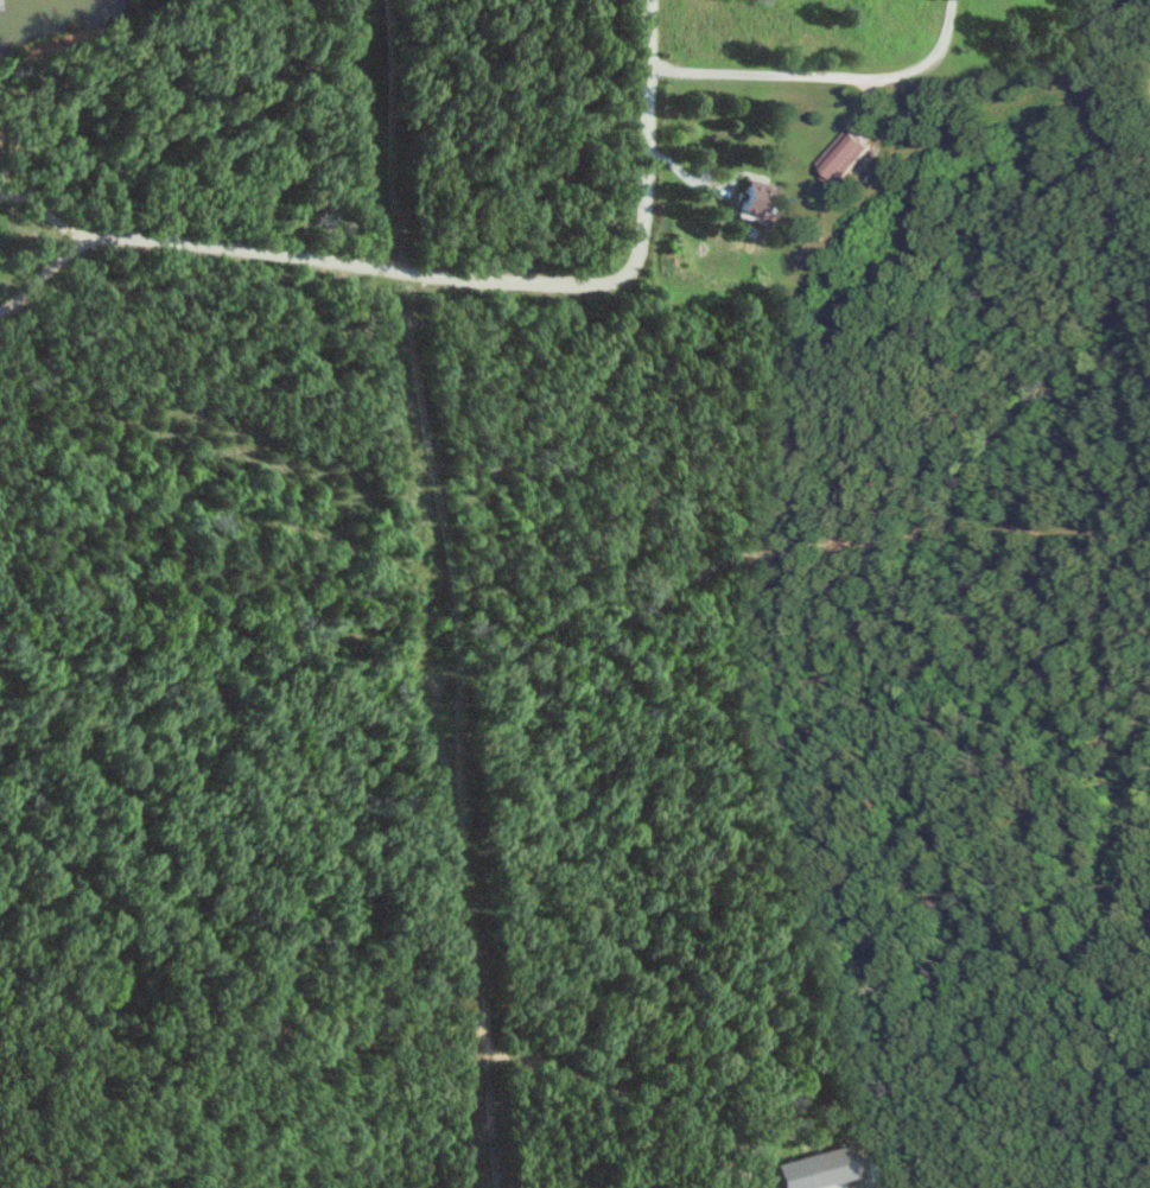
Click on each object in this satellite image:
road: (828, 74)
building: (845, 159)
building: (758, 199)
road: (501, 278)
building: (811, 1169)

